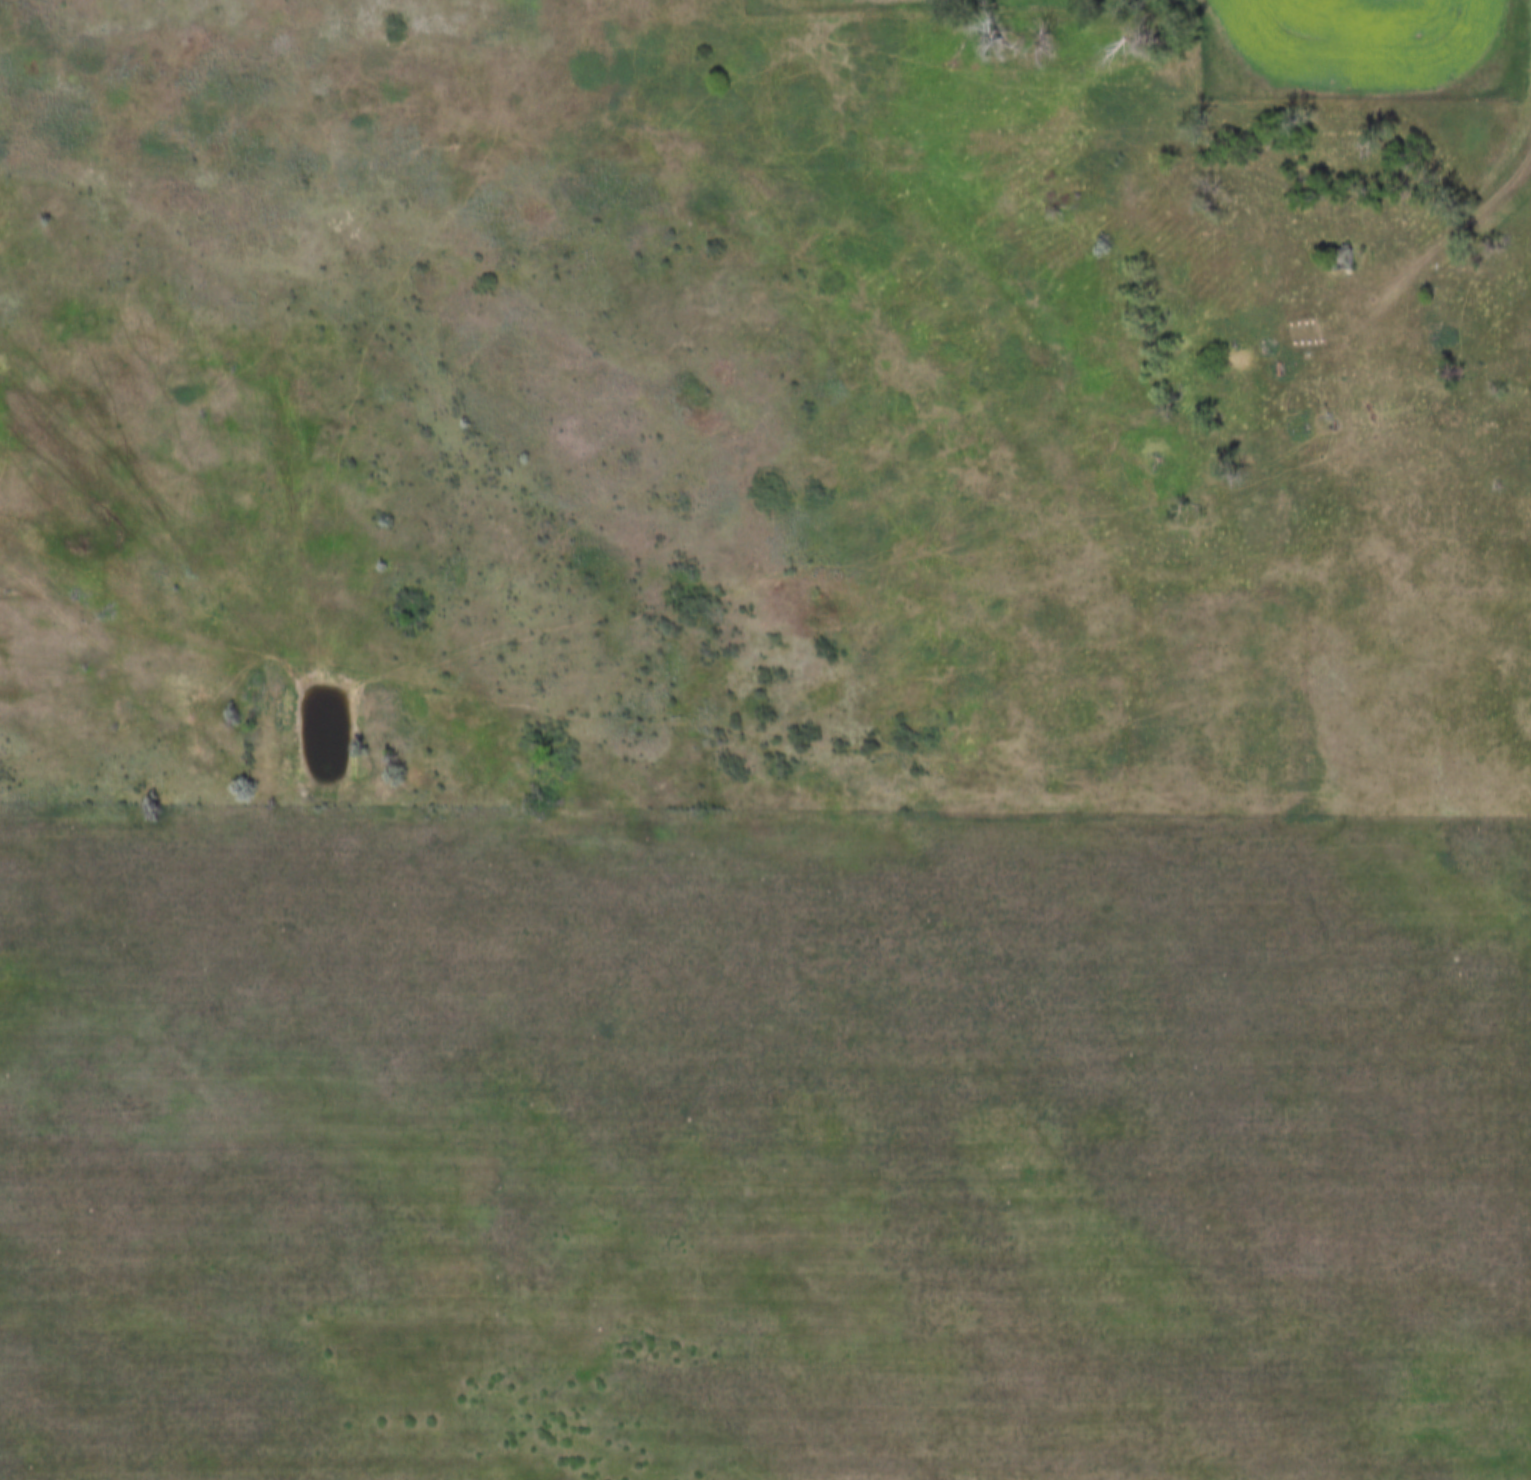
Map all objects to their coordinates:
building: (1341, 257)
road: (1412, 262)

